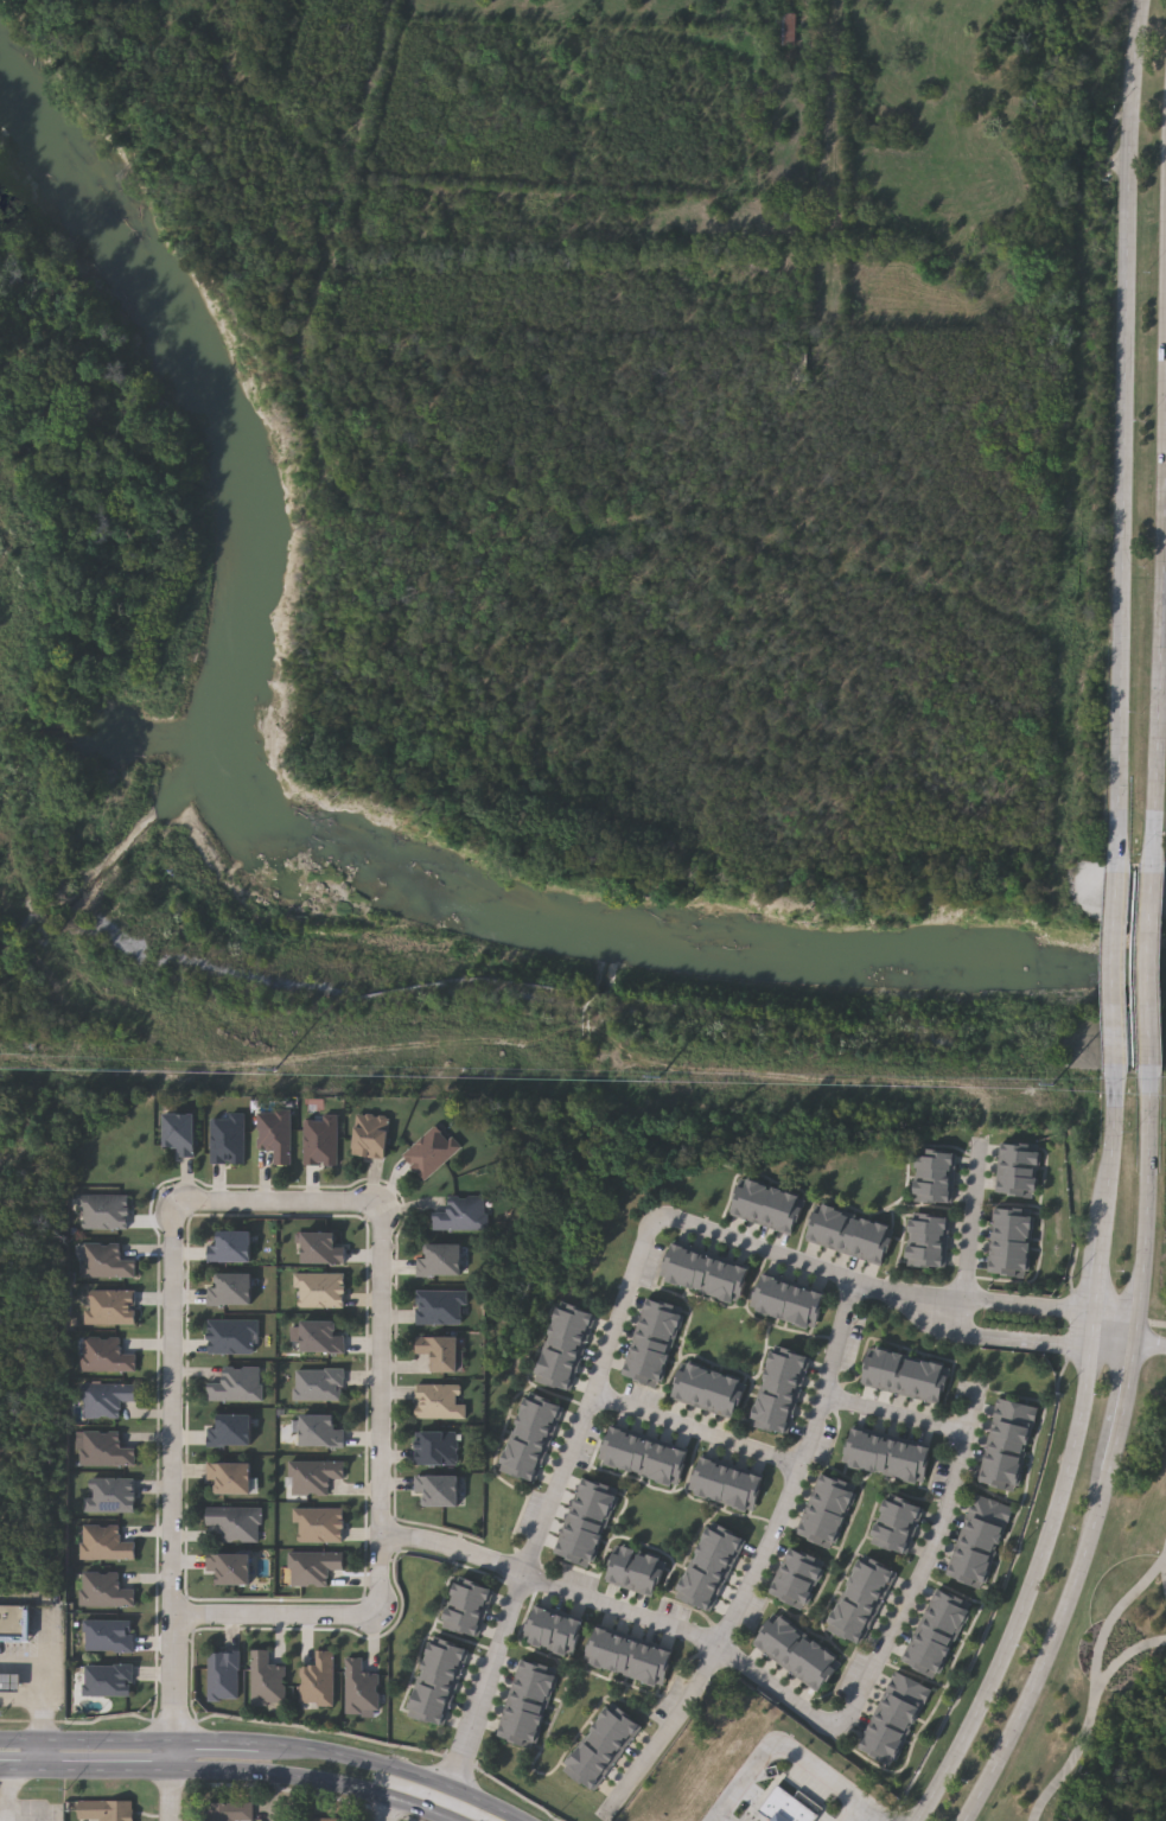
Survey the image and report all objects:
building: (786, 32)
building: (788, 218)
road: (1130, 429)
road: (1165, 727)
river: (234, 868)
road: (1165, 886)
road: (1134, 967)
road: (1165, 1040)
power tower: (91, 1074)
power tower: (486, 1082)
power tower: (869, 1089)
building: (185, 1134)
building: (279, 1135)
building: (376, 1136)
building: (231, 1140)
building: (325, 1142)
road: (1119, 1151)
building: (1020, 1154)
building: (437, 1155)
building: (936, 1160)
building: (1019, 1171)
building: (935, 1177)
building: (1017, 1186)
building: (934, 1193)
building: (745, 1201)
building: (760, 1205)
building: (776, 1210)
building: (791, 1215)
building: (466, 1217)
building: (1014, 1220)
building: (821, 1223)
building: (930, 1225)
building: (836, 1228)
road: (971, 1229)
building: (850, 1234)
building: (1012, 1236)
building: (866, 1239)
building: (929, 1242)
building: (880, 1243)
building: (234, 1248)
building: (325, 1249)
building: (1011, 1253)
building: (928, 1259)
building: (108, 1261)
building: (444, 1263)
building: (674, 1263)
road: (809, 1267)
building: (689, 1268)
building: (1008, 1269)
road: (1102, 1272)
building: (706, 1274)
building: (721, 1279)
building: (737, 1284)
building: (232, 1291)
building: (323, 1291)
building: (766, 1295)
building: (782, 1300)
building: (798, 1305)
road: (1026, 1305)
building: (113, 1307)
building: (444, 1310)
building: (814, 1310)
building: (664, 1312)
road: (1117, 1316)
building: (578, 1317)
building: (660, 1327)
road: (1094, 1330)
building: (572, 1332)
building: (324, 1336)
building: (234, 1337)
road: (1020, 1337)
road: (1151, 1342)
building: (652, 1343)
building: (567, 1348)
road: (1113, 1349)
building: (108, 1356)
building: (444, 1356)
building: (648, 1358)
building: (790, 1362)
building: (561, 1363)
building: (875, 1367)
road: (173, 1370)
building: (892, 1371)
building: (643, 1375)
building: (907, 1375)
building: (785, 1377)
building: (556, 1379)
building: (923, 1379)
building: (686, 1383)
building: (938, 1383)
building: (320, 1384)
building: (240, 1386)
building: (701, 1388)
building: (718, 1393)
building: (780, 1393)
building: (733, 1397)
building: (109, 1400)
building: (444, 1405)
building: (776, 1407)
road: (384, 1408)
building: (544, 1409)
building: (1018, 1412)
road: (899, 1416)
building: (771, 1422)
building: (539, 1424)
building: (1013, 1428)
building: (232, 1431)
building: (324, 1431)
road: (696, 1432)
building: (533, 1439)
building: (1008, 1445)
building: (613, 1447)
building: (107, 1450)
building: (856, 1450)
building: (439, 1451)
building: (629, 1453)
building: (527, 1454)
building: (872, 1454)
road: (1108, 1456)
building: (645, 1458)
building: (888, 1458)
building: (905, 1462)
building: (1005, 1463)
building: (661, 1464)
building: (920, 1465)
building: (521, 1469)
building: (677, 1469)
building: (316, 1477)
building: (232, 1478)
building: (703, 1478)
building: (1000, 1479)
building: (719, 1483)
building: (835, 1488)
building: (735, 1489)
building: (441, 1494)
building: (599, 1494)
building: (751, 1494)
building: (113, 1495)
building: (830, 1503)
building: (594, 1508)
building: (903, 1509)
building: (993, 1509)
road: (547, 1517)
building: (824, 1520)
building: (987, 1522)
building: (238, 1523)
building: (588, 1523)
building: (321, 1526)
building: (897, 1526)
building: (820, 1535)
building: (982, 1536)
building: (582, 1539)
building: (724, 1539)
road: (399, 1540)
building: (891, 1541)
building: (107, 1543)
building: (977, 1549)
building: (718, 1553)
building: (576, 1554)
road: (763, 1562)
building: (805, 1564)
road: (931, 1564)
building: (973, 1564)
building: (620, 1566)
building: (314, 1568)
building: (711, 1568)
building: (231, 1570)
building: (636, 1571)
building: (874, 1572)
building: (652, 1577)
building: (968, 1577)
building: (798, 1579)
building: (703, 1583)
building: (868, 1586)
building: (107, 1590)
building: (474, 1592)
road: (1025, 1592)
building: (791, 1594)
building: (697, 1597)
building: (861, 1602)
building: (952, 1604)
building: (469, 1609)
road: (274, 1616)
building: (854, 1616)
building: (947, 1616)
road: (635, 1617)
building: (14, 1624)
building: (464, 1624)
building: (539, 1628)
building: (941, 1628)
building: (847, 1629)
building: (555, 1632)
building: (773, 1635)
building: (109, 1636)
building: (572, 1638)
building: (935, 1639)
building: (785, 1643)
park: (1109, 1643)
building: (600, 1649)
building: (450, 1653)
building: (929, 1653)
building: (616, 1654)
building: (798, 1654)
road: (1126, 1657)
building: (631, 1658)
building: (645, 1662)
building: (811, 1663)
building: (923, 1664)
building: (662, 1667)
building: (445, 1668)
building: (824, 1673)
building: (539, 1674)
building: (225, 1676)
building: (110, 1680)
building: (268, 1680)
building: (320, 1681)
building: (9, 1683)
gas station: (9, 1683)
building: (439, 1683)
road: (1095, 1686)
building: (363, 1688)
building: (534, 1688)
building: (911, 1688)
road: (44, 1694)
building: (434, 1699)
building: (905, 1701)
building: (528, 1705)
building: (428, 1713)
building: (898, 1713)
building: (523, 1719)
building: (620, 1723)
building: (891, 1726)
building: (518, 1736)
building: (611, 1736)
building: (884, 1739)
road: (85, 1743)
road: (216, 1744)
building: (603, 1749)
road: (331, 1752)
building: (878, 1752)
road: (784, 1758)
building: (593, 1762)
road: (85, 1772)
building: (584, 1774)
road: (288, 1777)
road: (172, 1782)
road: (458, 1791)
road: (6, 1796)
building: (789, 1807)
road: (386, 1809)
building: (108, 1810)
building: (234, 1812)
road: (422, 1813)
road: (850, 1815)
road: (506, 1819)
road: (724, 1819)
building: (329, 1820)

